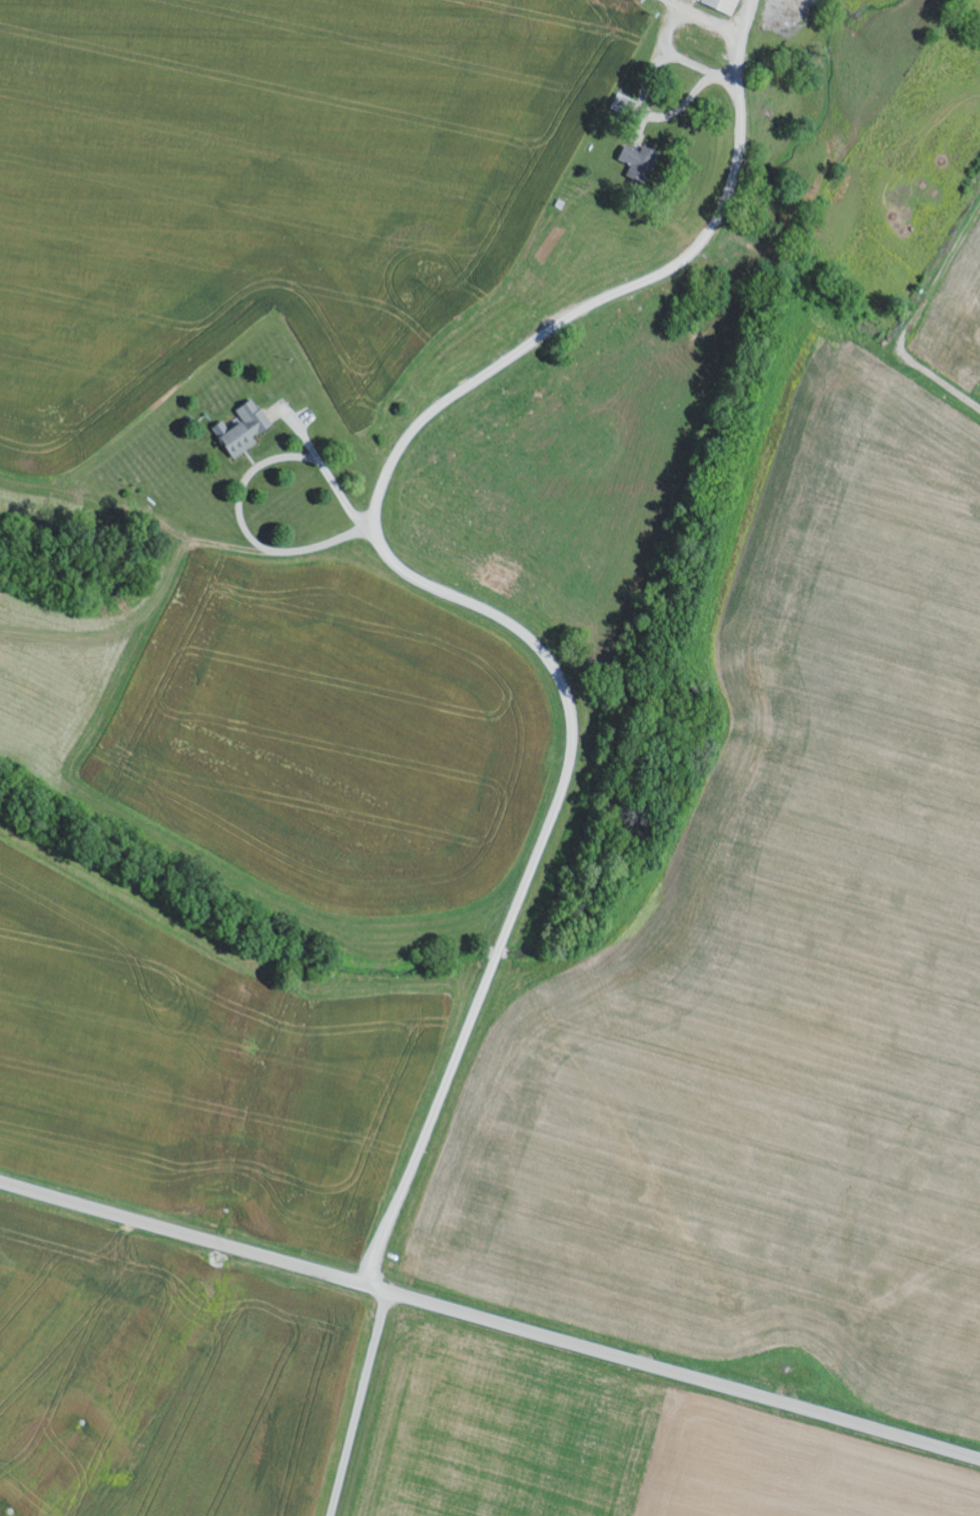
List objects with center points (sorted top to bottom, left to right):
building: (660, 143)
building: (639, 163)
road: (852, 315)
building: (245, 430)
building: (502, 579)
road: (442, 590)
road: (490, 1321)
road: (359, 1404)

